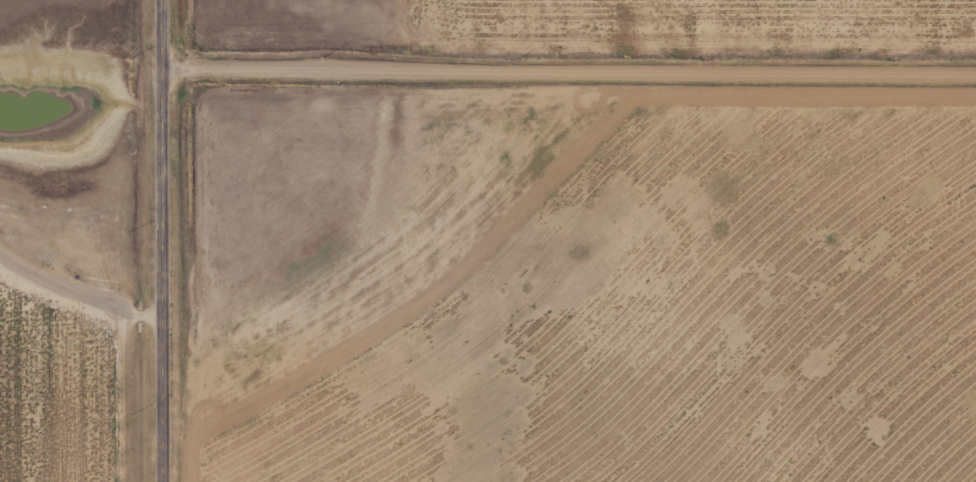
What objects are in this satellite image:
road: (571, 69)
road: (164, 240)
road: (75, 296)

